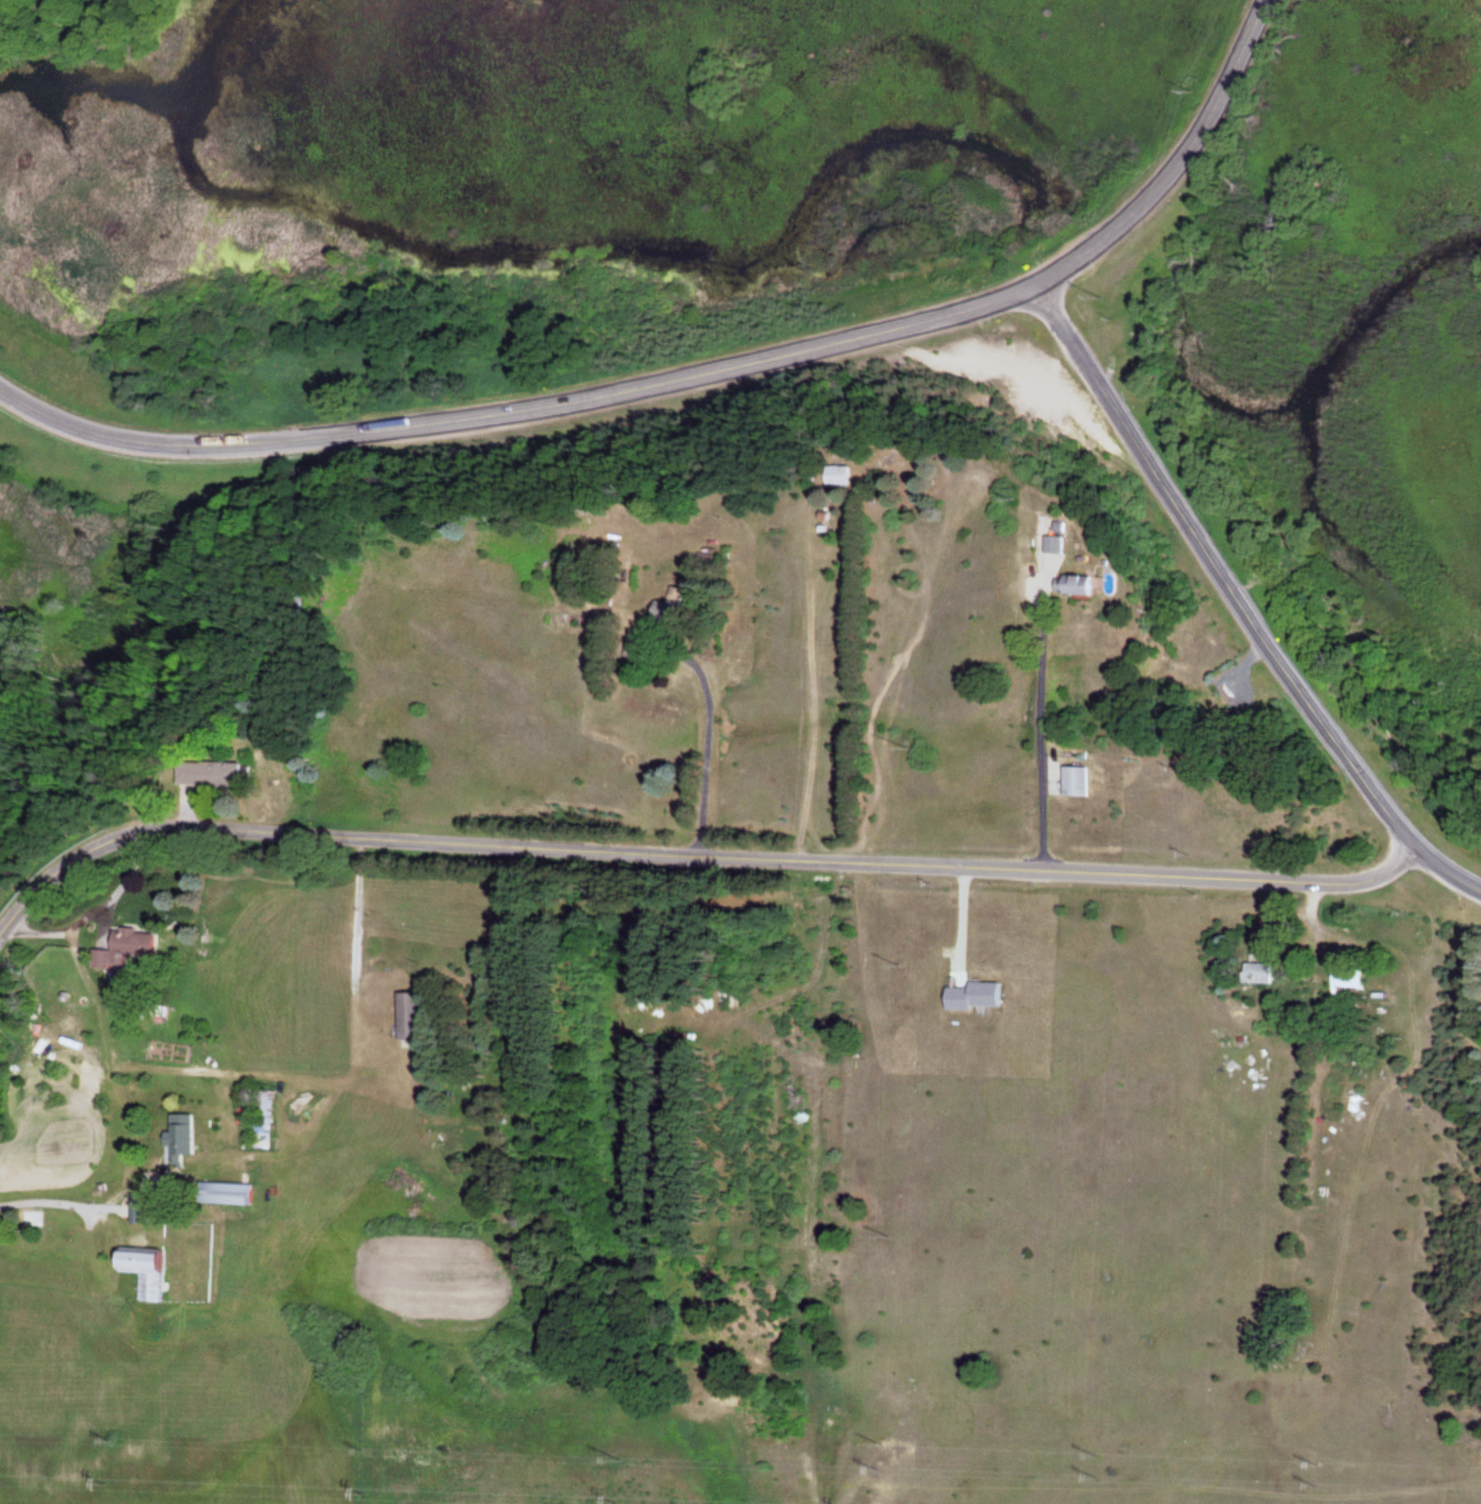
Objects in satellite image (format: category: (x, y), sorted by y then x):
road: (1174, 163)
road: (892, 329)
road: (372, 437)
building: (831, 476)
building: (1050, 545)
road: (1219, 568)
building: (1077, 584)
building: (671, 604)
road: (1039, 716)
building: (206, 774)
building: (1075, 781)
road: (696, 856)
road: (1446, 873)
building: (127, 949)
building: (1256, 973)
building: (1345, 977)
building: (408, 1017)
building: (264, 1119)
building: (179, 1139)
building: (224, 1194)
building: (138, 1212)
building: (142, 1271)

